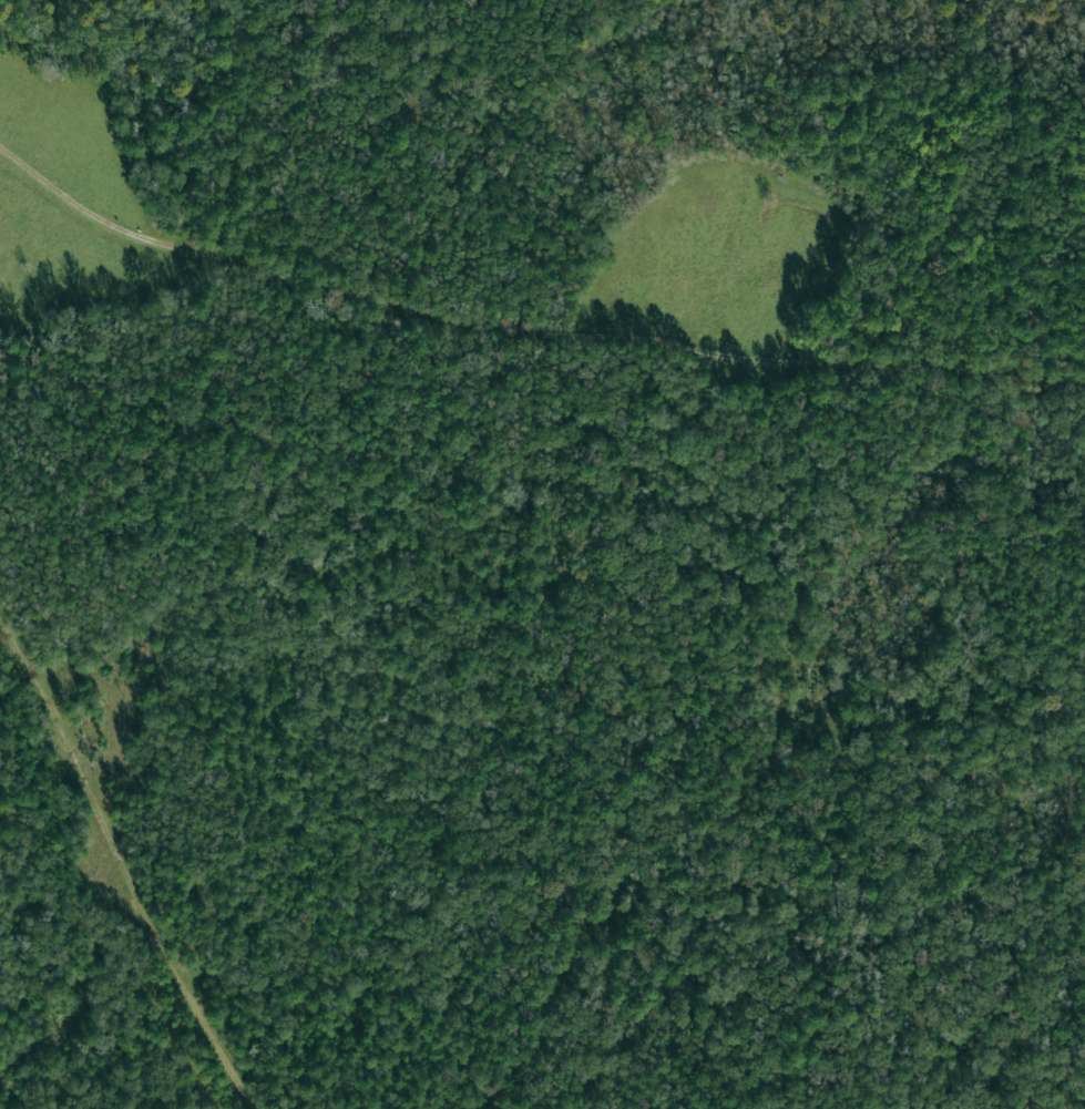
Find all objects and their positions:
road: (524, 332)
road: (124, 866)

